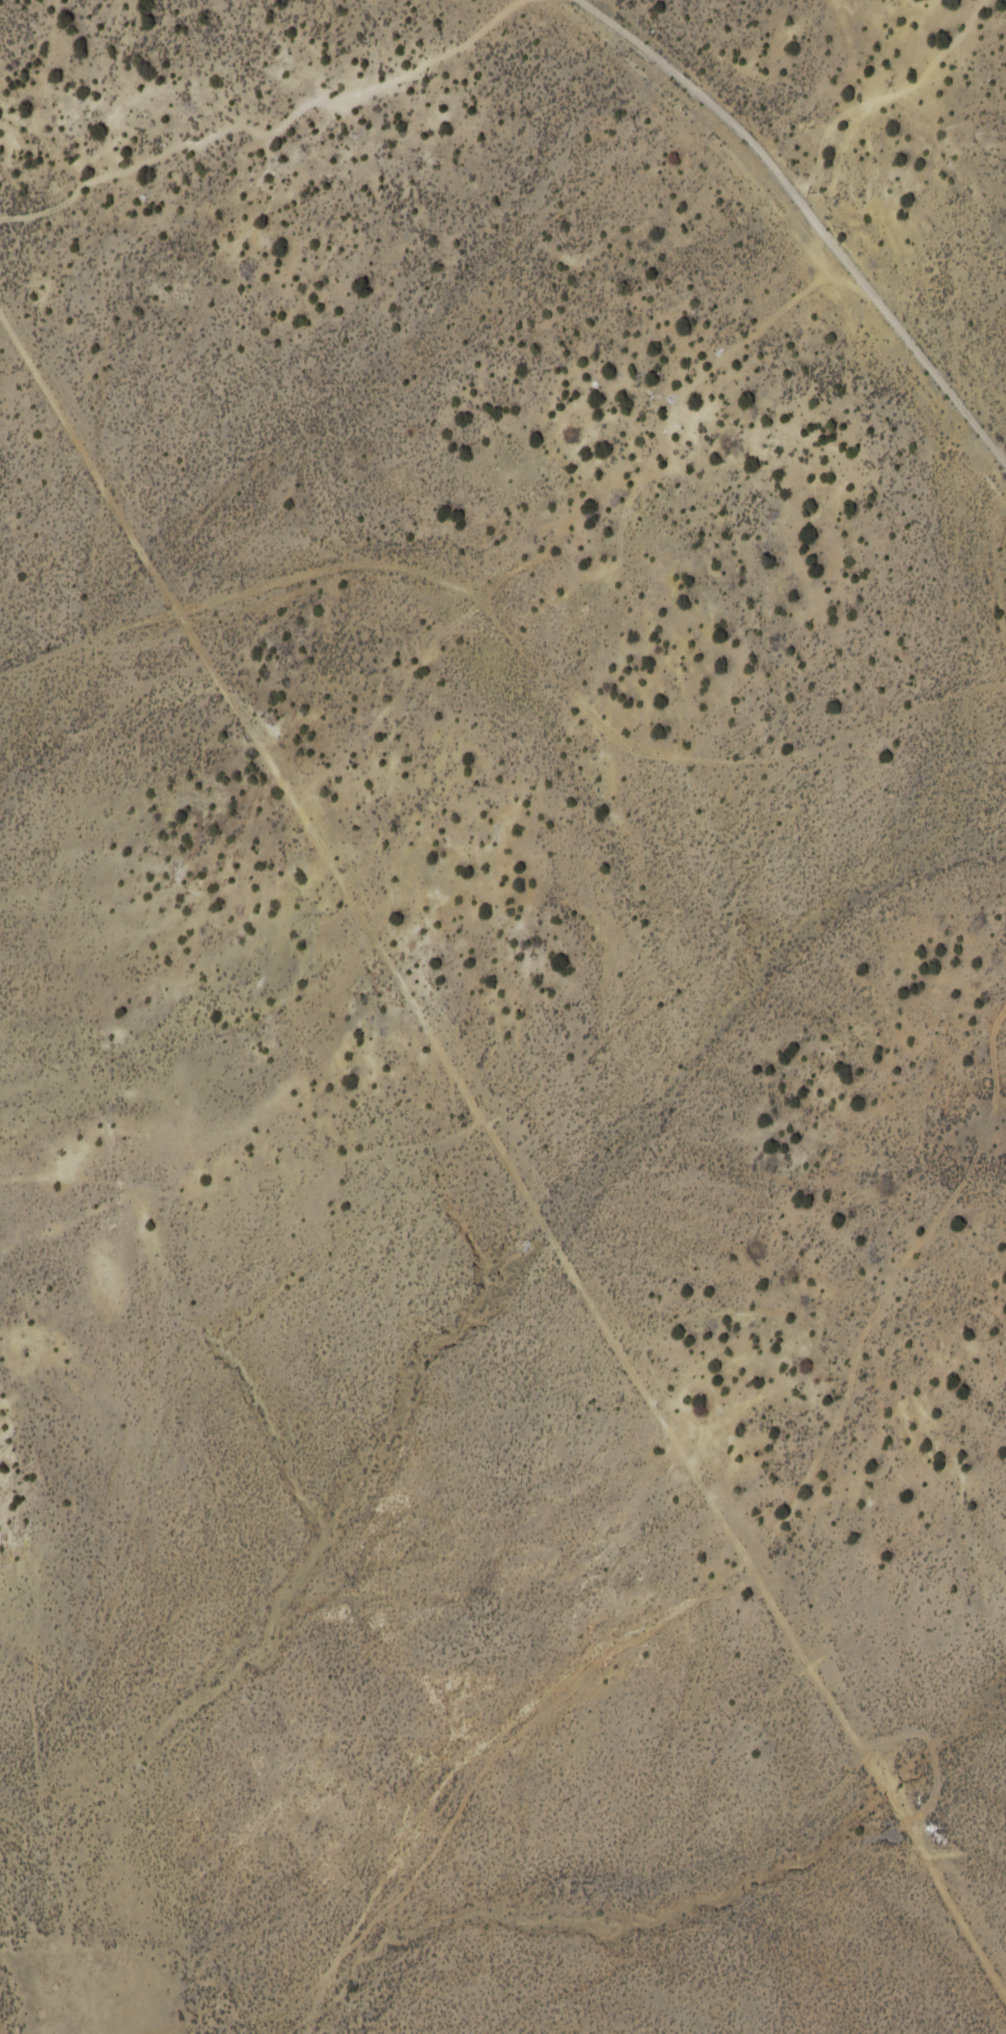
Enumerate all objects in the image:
road: (677, 126)
road: (824, 247)
road: (488, 680)

